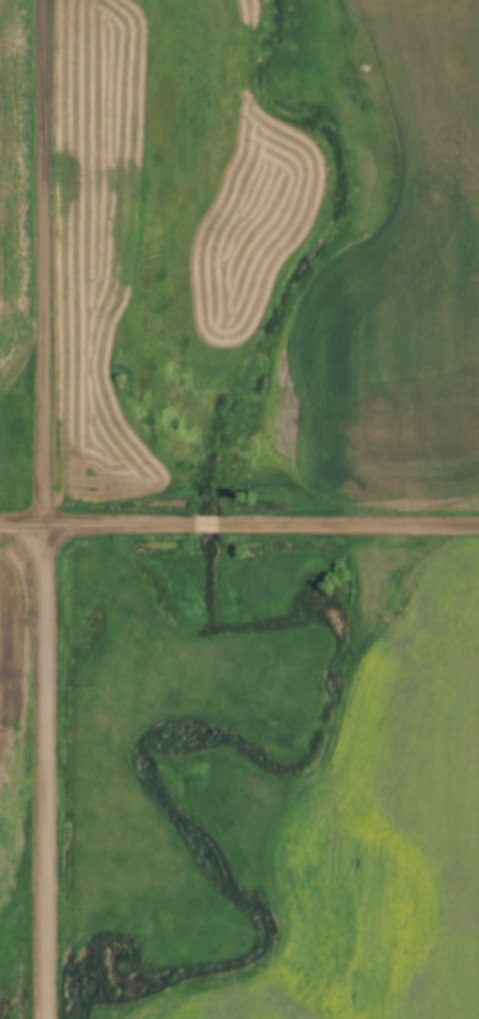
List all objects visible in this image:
road: (44, 509)
road: (239, 528)
road: (24, 980)

